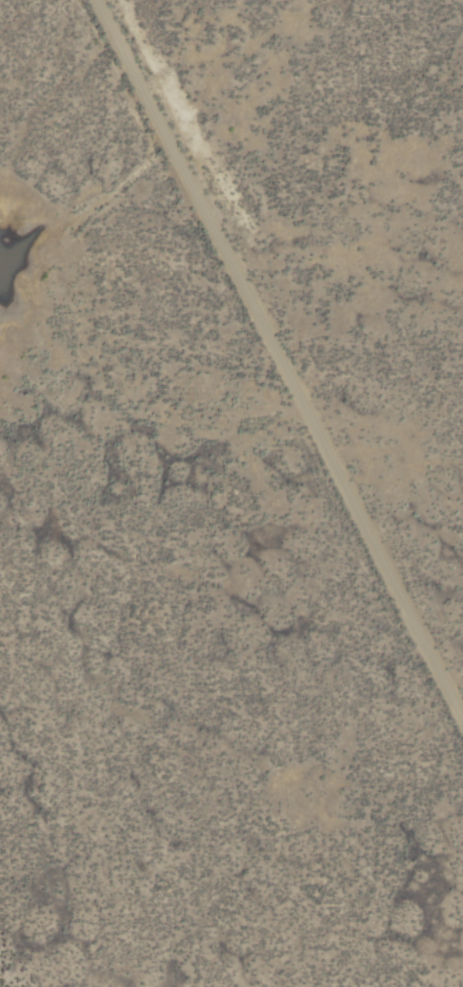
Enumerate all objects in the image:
road: (280, 358)

